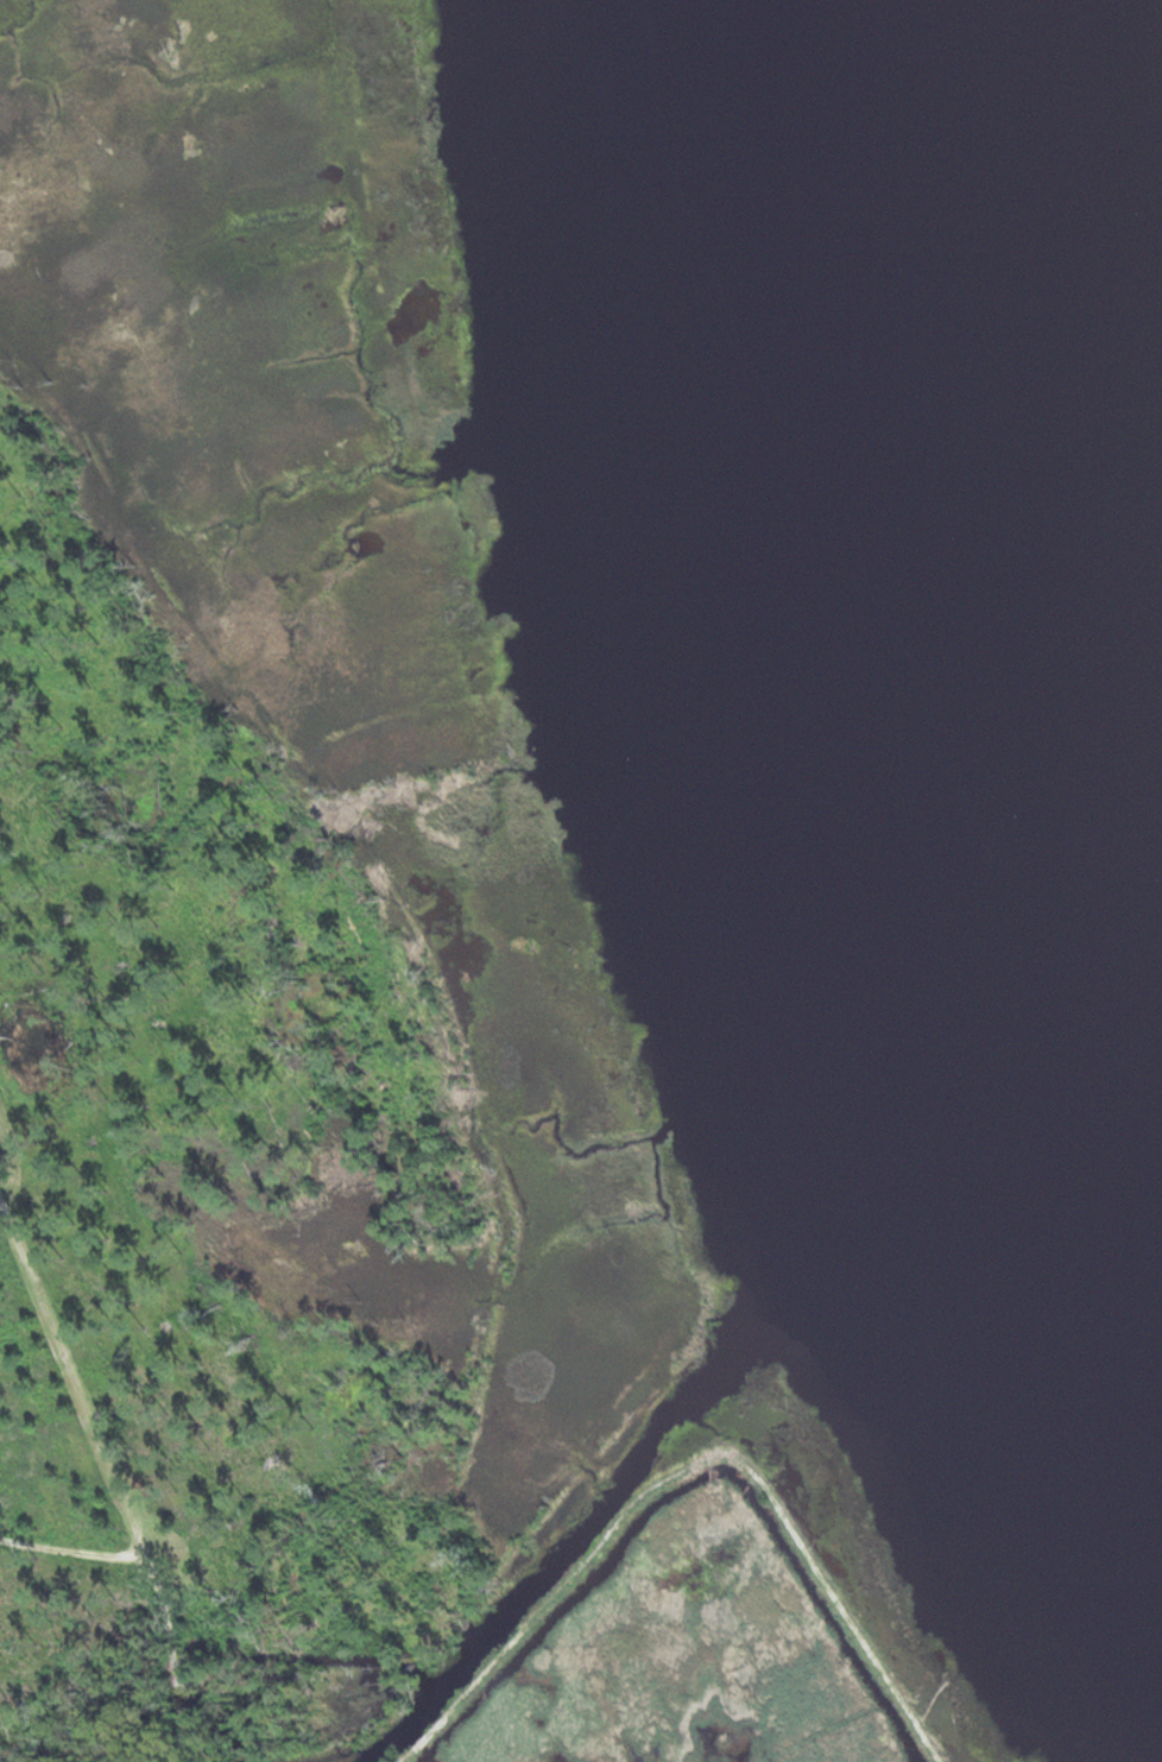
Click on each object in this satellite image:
road: (137, 1521)

